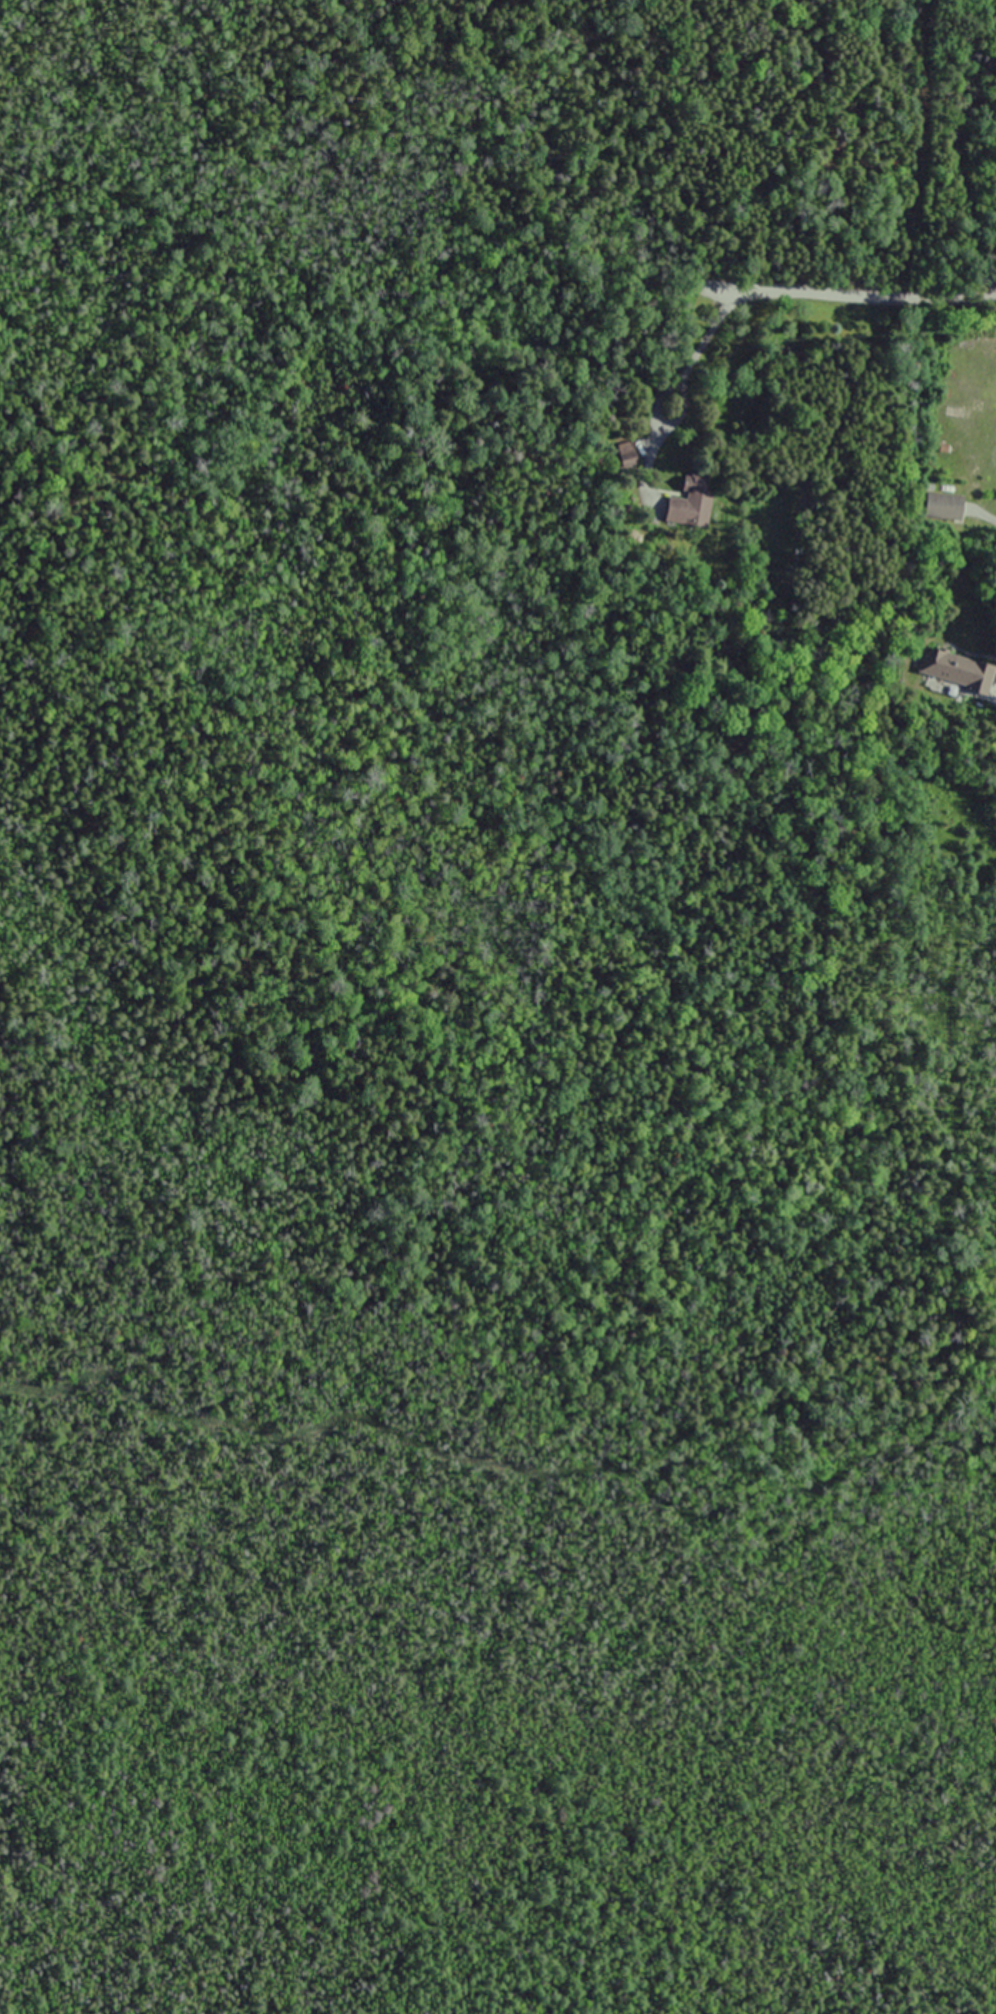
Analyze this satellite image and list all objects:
road: (968, 169)
road: (852, 303)
road: (691, 351)
building: (689, 506)
road: (992, 519)
building: (953, 670)

